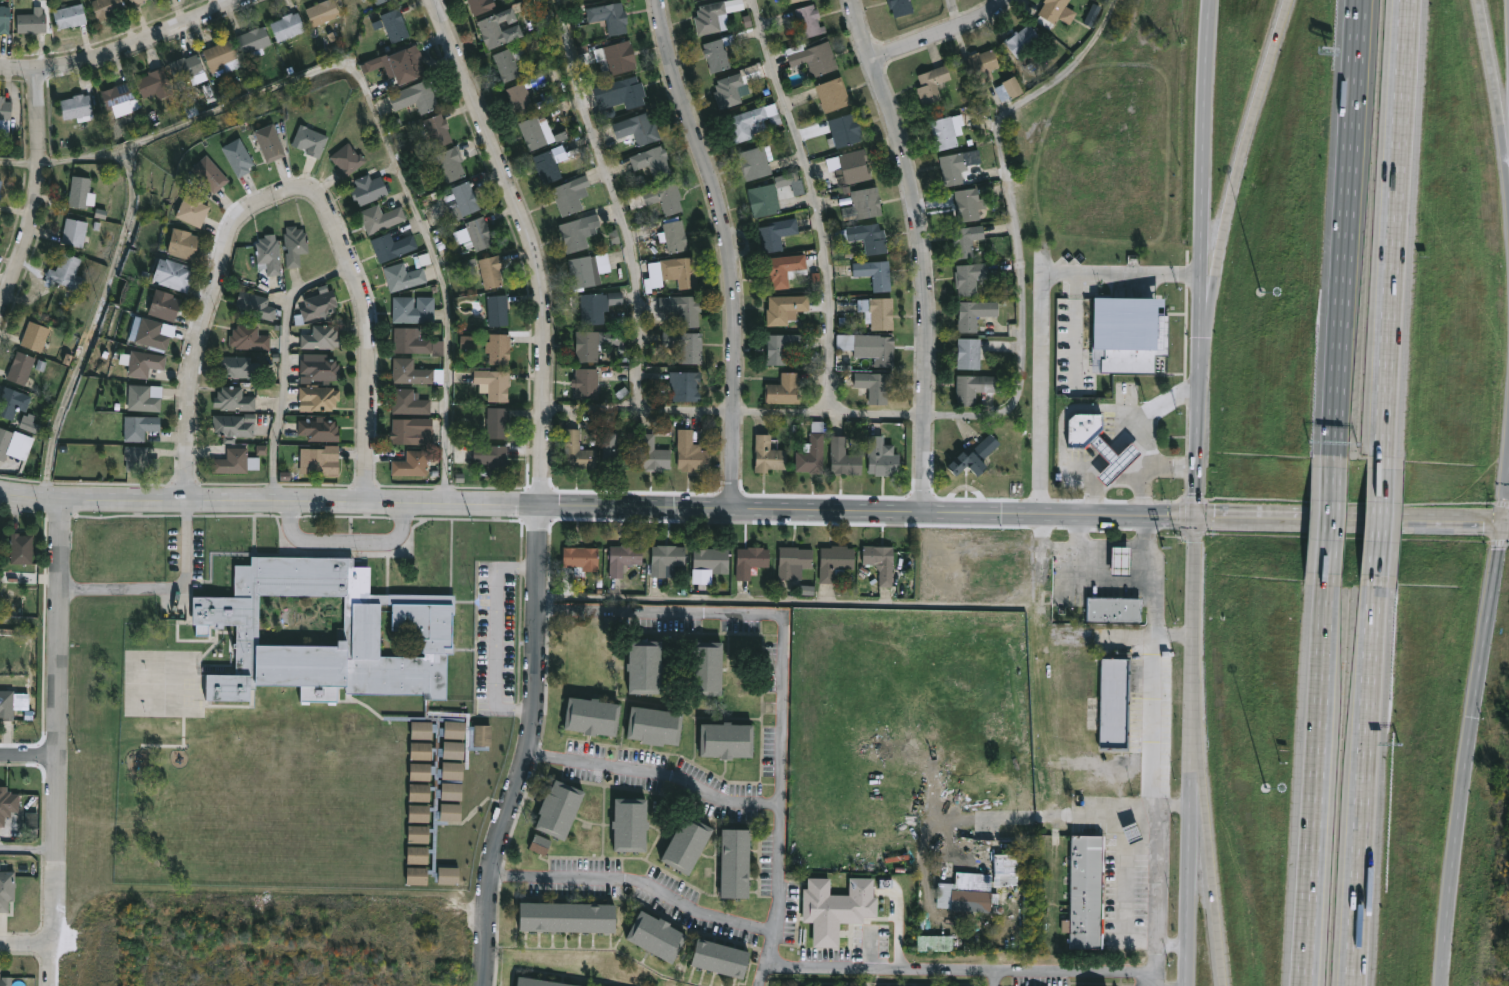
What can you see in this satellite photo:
building: (597, 0)
building: (135, 1)
building: (377, 1)
building: (793, 1)
building: (480, 6)
building: (901, 7)
building: (106, 8)
building: (1051, 11)
building: (322, 12)
road: (954, 14)
building: (69, 16)
building: (712, 16)
building: (609, 17)
building: (4, 19)
building: (809, 20)
building: (31, 21)
building: (395, 24)
building: (287, 26)
building: (499, 28)
road: (943, 33)
building: (1022, 40)
building: (253, 41)
road: (123, 47)
building: (717, 53)
building: (222, 56)
building: (616, 57)
building: (813, 57)
building: (509, 62)
road: (1491, 62)
building: (406, 63)
building: (982, 64)
building: (186, 67)
building: (154, 83)
building: (932, 84)
building: (733, 87)
building: (1015, 88)
building: (621, 93)
building: (832, 94)
building: (415, 96)
building: (120, 98)
building: (520, 98)
road: (372, 105)
building: (76, 107)
building: (5, 116)
building: (753, 122)
building: (637, 129)
building: (436, 130)
building: (845, 130)
building: (947, 131)
building: (533, 133)
road: (1505, 139)
building: (310, 140)
building: (269, 142)
building: (238, 156)
building: (346, 160)
building: (653, 161)
building: (451, 163)
building: (549, 163)
building: (755, 163)
building: (850, 166)
building: (958, 167)
building: (209, 173)
building: (0, 184)
road: (292, 189)
building: (368, 189)
road: (1234, 190)
building: (79, 191)
road: (1207, 192)
road: (38, 194)
building: (0, 195)
building: (571, 195)
building: (665, 197)
building: (462, 198)
building: (765, 199)
road: (815, 201)
road: (623, 202)
building: (867, 202)
building: (969, 204)
building: (191, 209)
building: (380, 218)
building: (74, 232)
road: (1346, 232)
building: (578, 233)
building: (776, 233)
road: (1393, 234)
building: (474, 235)
building: (675, 236)
building: (866, 237)
building: (966, 240)
building: (182, 243)
road: (532, 243)
building: (294, 245)
building: (392, 246)
road: (734, 247)
road: (923, 251)
building: (269, 255)
building: (782, 269)
building: (491, 270)
building: (584, 271)
building: (682, 271)
building: (65, 272)
building: (173, 274)
building: (876, 274)
building: (403, 276)
building: (970, 277)
building: (163, 305)
building: (319, 305)
building: (598, 306)
building: (257, 307)
building: (683, 308)
building: (784, 308)
building: (412, 309)
building: (497, 310)
building: (877, 311)
building: (974, 314)
road: (1039, 315)
road: (93, 326)
road: (1075, 331)
building: (150, 333)
building: (35, 336)
building: (249, 338)
building: (321, 338)
building: (415, 342)
building: (595, 343)
building: (685, 345)
building: (779, 347)
building: (869, 347)
building: (498, 349)
building: (969, 353)
building: (141, 362)
building: (239, 367)
building: (20, 368)
building: (318, 368)
building: (410, 371)
building: (587, 383)
building: (493, 384)
building: (686, 385)
building: (874, 385)
building: (786, 388)
building: (972, 388)
road: (286, 396)
building: (318, 397)
building: (144, 398)
building: (233, 400)
building: (13, 401)
building: (409, 402)
road: (1011, 407)
road: (1150, 411)
building: (1088, 413)
building: (497, 422)
building: (234, 425)
building: (140, 427)
building: (319, 429)
building: (412, 431)
building: (1118, 442)
gas station: (1118, 442)
building: (14, 443)
road: (1198, 449)
building: (578, 450)
building: (812, 450)
building: (691, 451)
building: (769, 452)
building: (616, 453)
building: (654, 454)
building: (844, 457)
building: (881, 457)
building: (974, 457)
building: (140, 459)
building: (320, 459)
building: (494, 460)
building: (235, 462)
building: (412, 462)
road: (1149, 466)
road: (1110, 485)
road: (1506, 495)
road: (269, 501)
road: (195, 508)
road: (868, 511)
traffic signals: (1197, 515)
road: (1349, 517)
road: (1330, 519)
traffic signals: (1503, 519)
road: (1506, 519)
road: (1378, 521)
building: (0, 533)
road: (352, 533)
road: (1104, 542)
building: (21, 547)
road: (1151, 554)
building: (581, 557)
building: (623, 558)
building: (879, 558)
building: (667, 559)
building: (712, 559)
building: (751, 559)
building: (793, 560)
building: (1121, 560)
gas station: (1121, 560)
building: (835, 561)
road: (153, 576)
building: (1118, 597)
road: (782, 599)
building: (1117, 610)
road: (1155, 613)
road: (1488, 618)
road: (1174, 632)
road: (1123, 633)
road: (789, 653)
building: (645, 665)
building: (707, 667)
building: (355, 670)
building: (1115, 703)
building: (6, 704)
building: (591, 714)
building: (655, 724)
building: (483, 735)
building: (726, 738)
road: (59, 743)
road: (532, 748)
road: (1190, 750)
road: (29, 753)
building: (482, 761)
road: (658, 775)
road: (1316, 779)
road: (1364, 780)
building: (7, 803)
road: (1154, 804)
road: (1172, 805)
road: (1194, 805)
building: (558, 808)
road: (1071, 811)
road: (1199, 812)
building: (630, 823)
building: (686, 843)
building: (541, 846)
road: (1454, 851)
road: (28, 853)
building: (735, 862)
building: (1007, 869)
road: (637, 887)
building: (6, 888)
road: (1117, 889)
building: (1087, 892)
building: (967, 893)
building: (840, 898)
road: (1216, 914)
building: (566, 916)
building: (655, 935)
road: (26, 941)
road: (1173, 942)
building: (935, 943)
road: (769, 953)
building: (720, 957)
road: (978, 976)
road: (762, 977)
building: (6, 981)
road: (997, 981)
road: (1152, 981)
building: (541, 982)

